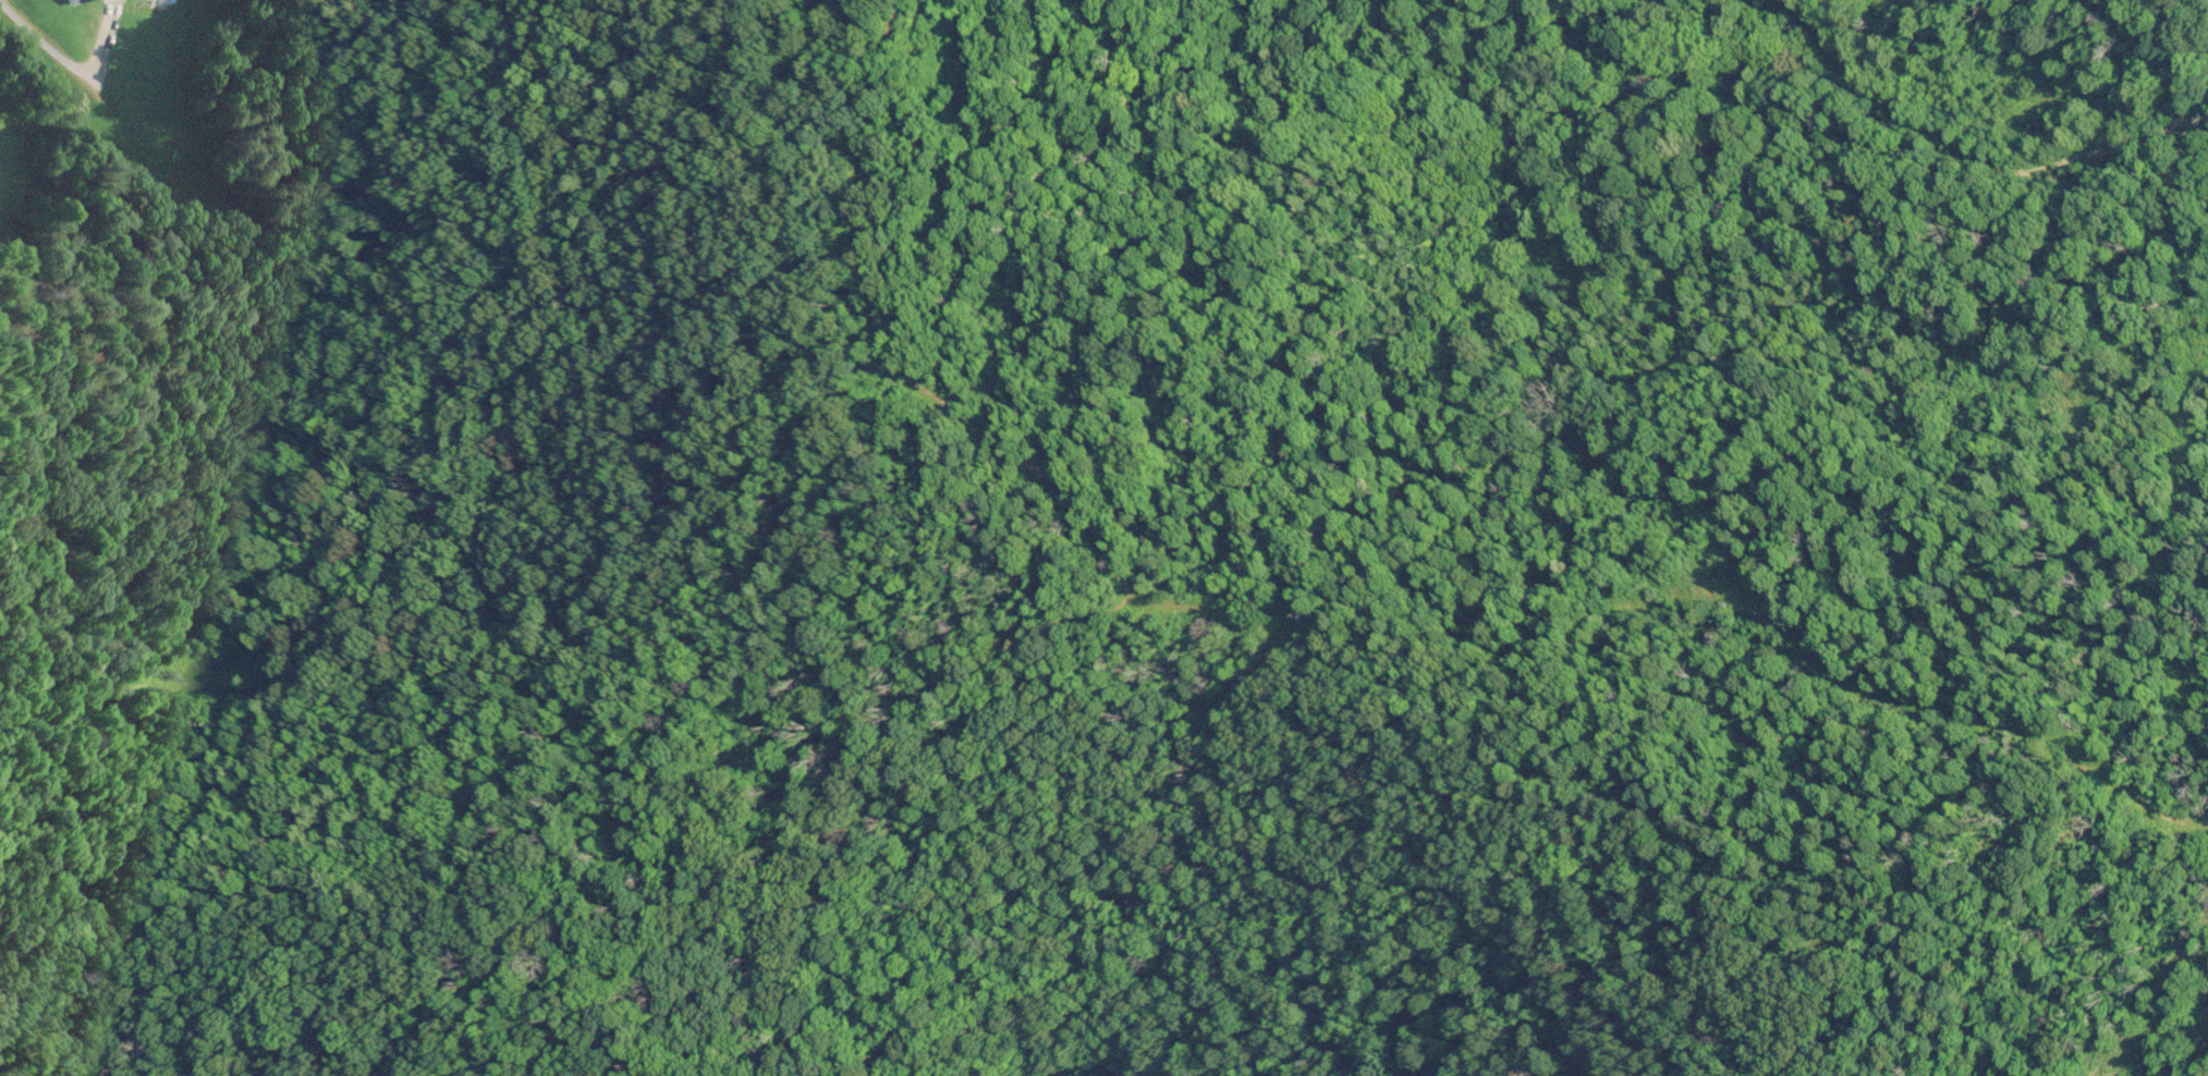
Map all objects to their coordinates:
building: (72, 1)
road: (75, 64)

